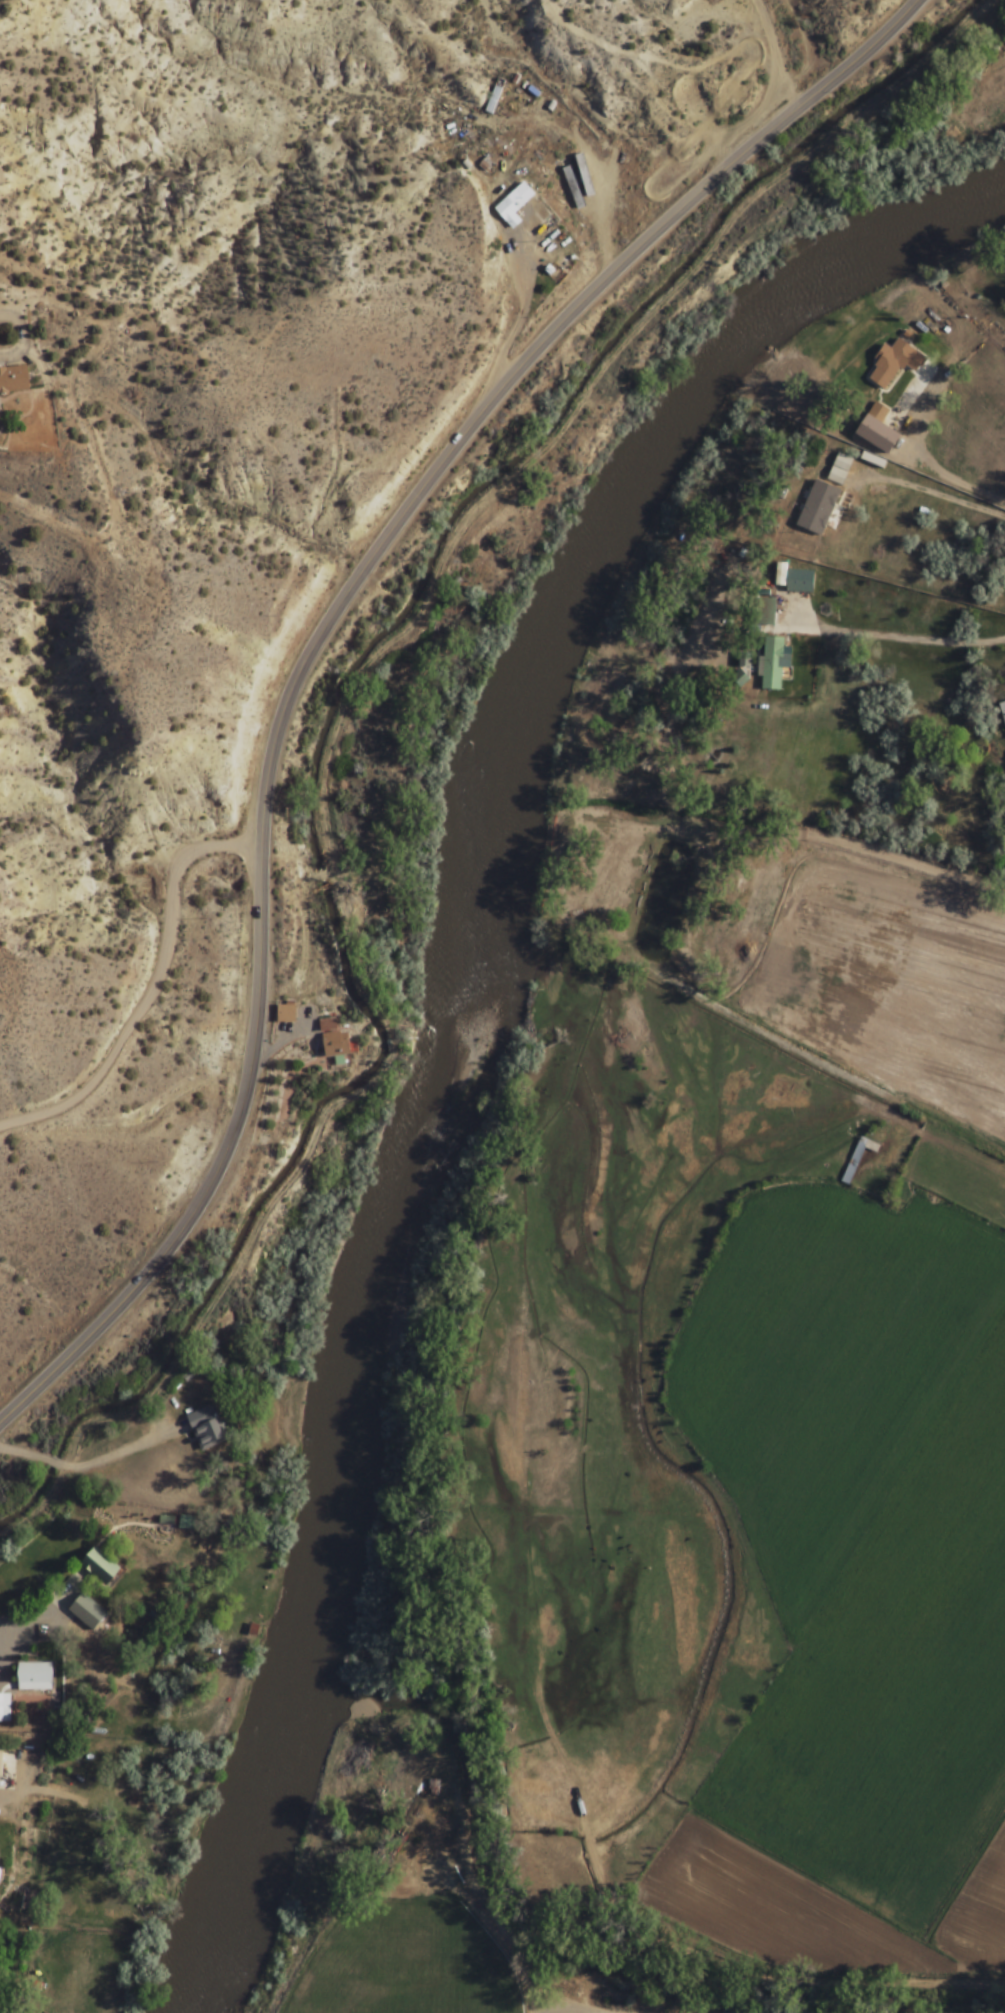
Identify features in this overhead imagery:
road: (773, 55)
road: (655, 59)
building: (491, 100)
road: (587, 145)
building: (573, 179)
building: (513, 204)
building: (498, 227)
road: (520, 319)
road: (24, 338)
building: (893, 363)
building: (13, 379)
building: (877, 413)
building: (817, 508)
building: (794, 580)
building: (764, 611)
road: (316, 638)
building: (744, 662)
building: (774, 663)
building: (1002, 710)
road: (336, 726)
road: (151, 988)
river: (445, 1003)
building: (285, 1013)
building: (327, 1024)
road: (282, 1039)
building: (335, 1046)
building: (857, 1158)
building: (206, 1427)
road: (122, 1451)
road: (23, 1454)
road: (53, 1463)
building: (165, 1519)
building: (186, 1522)
building: (98, 1566)
building: (87, 1611)
building: (34, 1676)
building: (4, 1707)
building: (0, 1759)
road: (22, 1778)
road: (35, 1790)
building: (0, 1882)
river: (497, 1914)
crop: (404, 1962)
road: (562, 2009)

